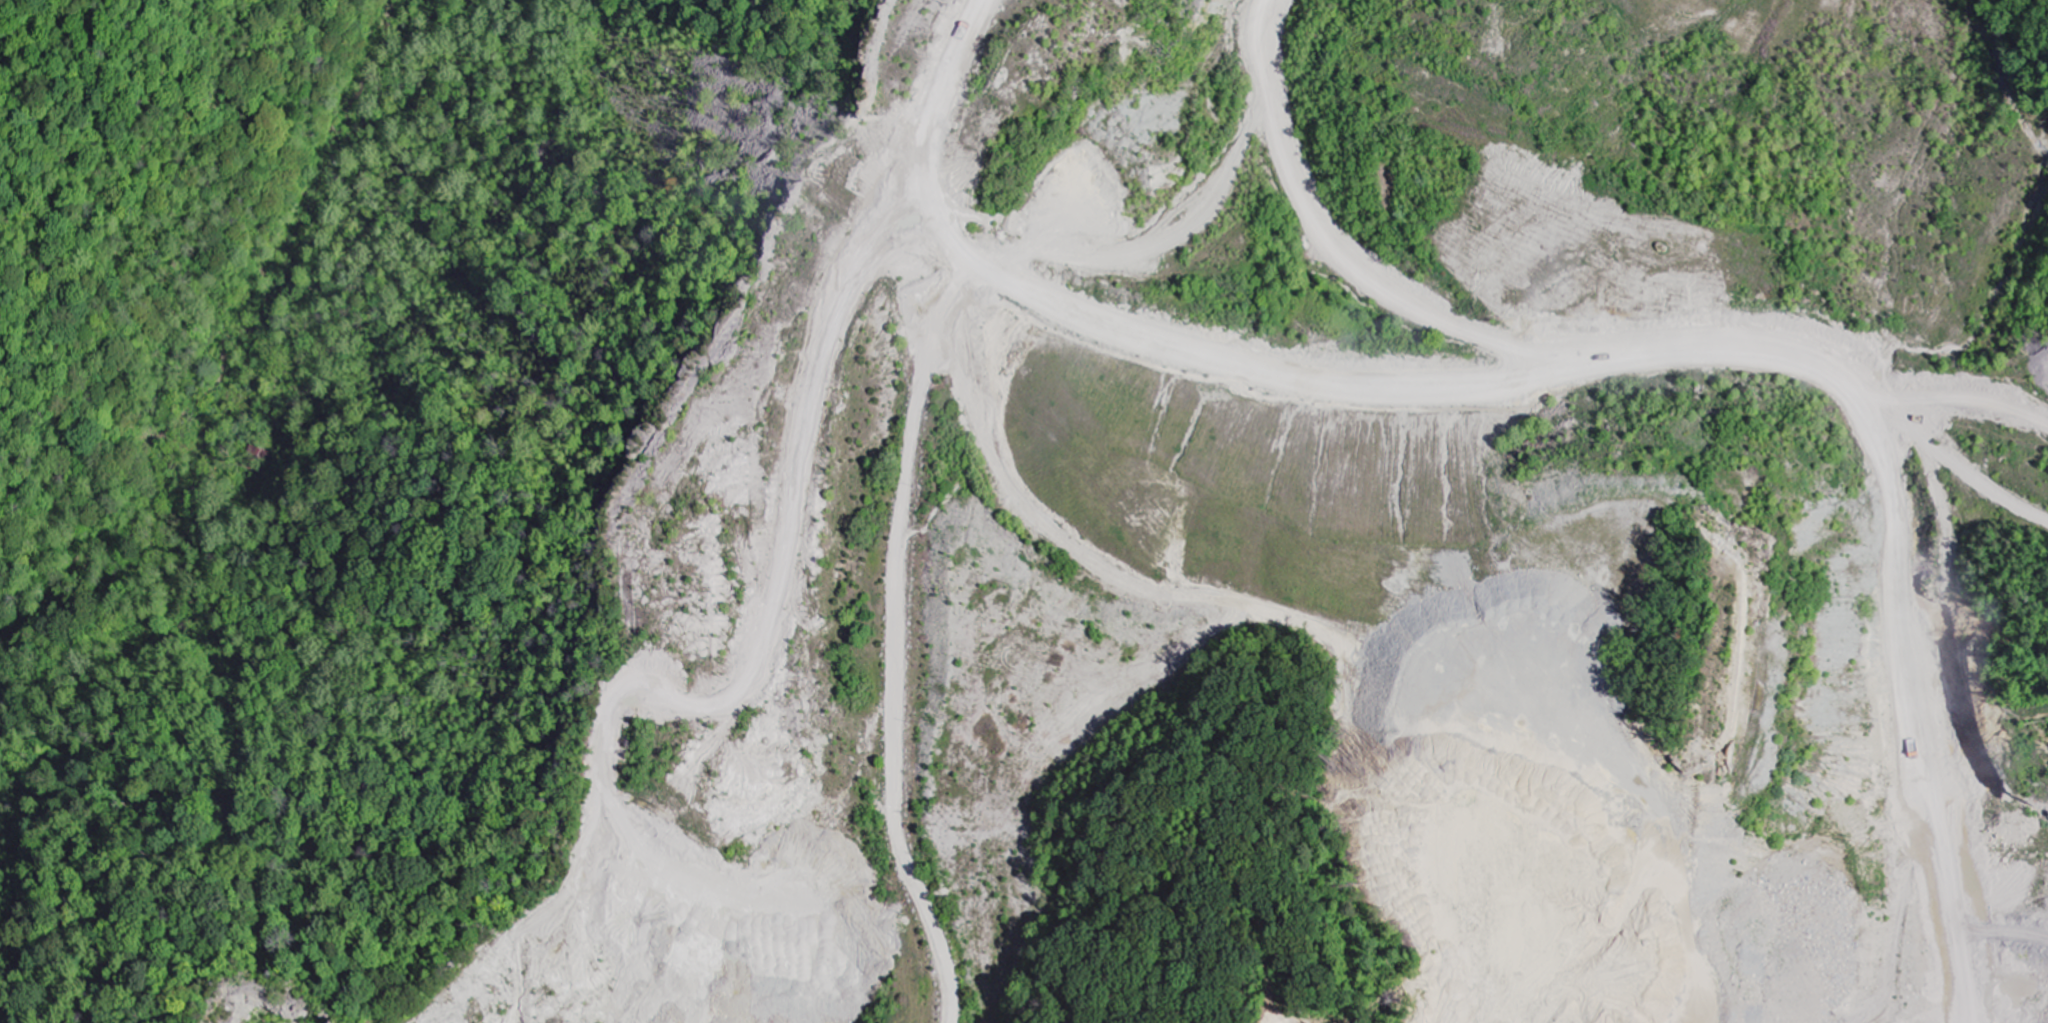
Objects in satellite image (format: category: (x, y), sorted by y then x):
road: (925, 146)
road: (1740, 354)
road: (1961, 407)
road: (920, 410)
road: (788, 541)

